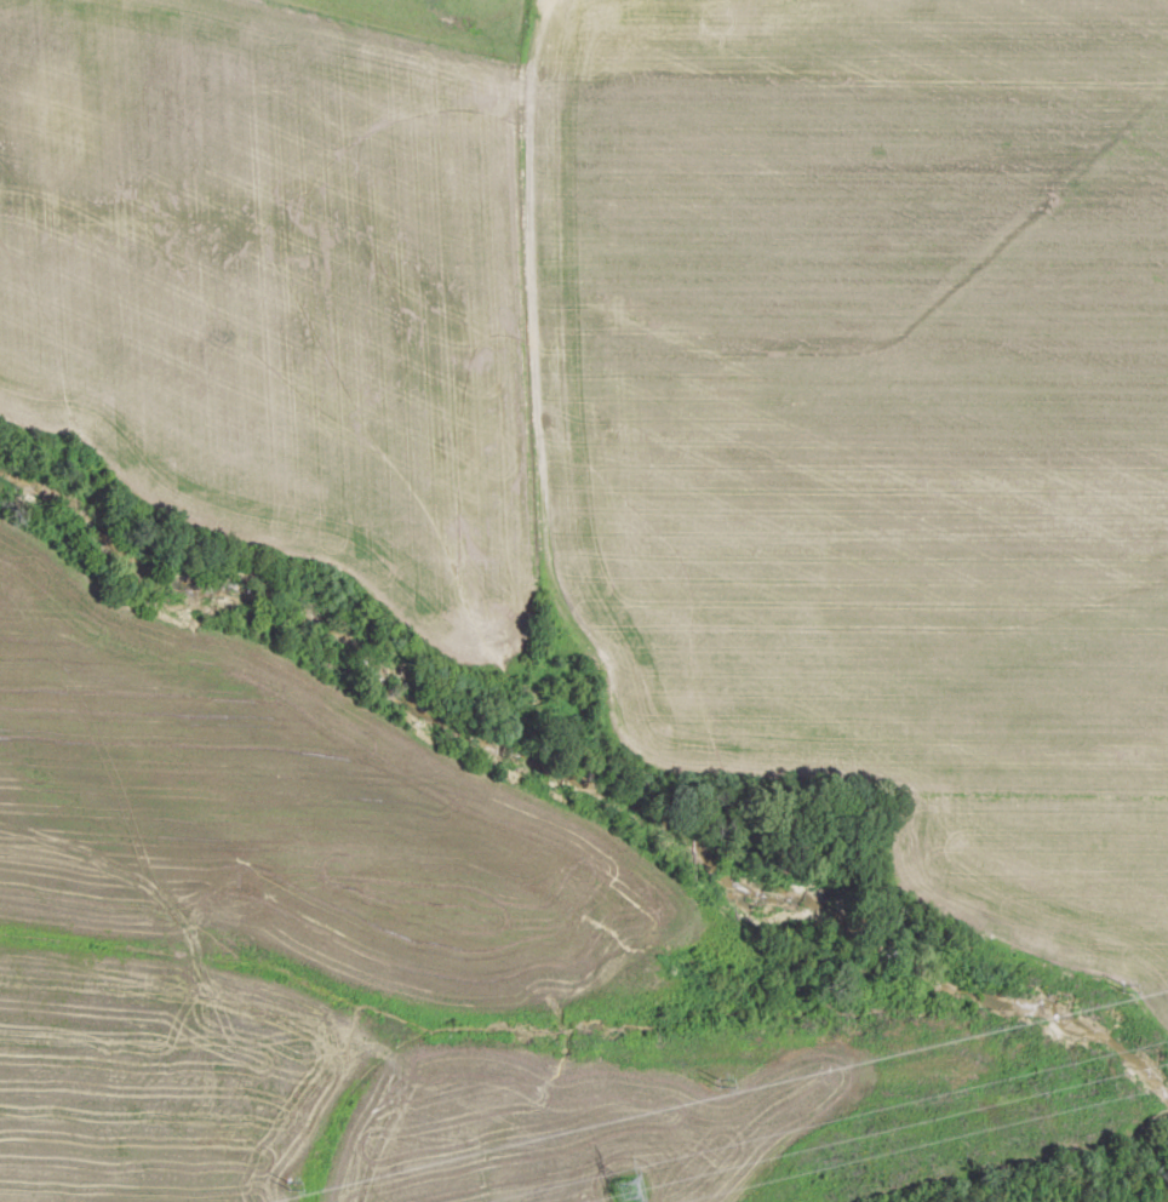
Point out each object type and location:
power tower: (628, 1185)

